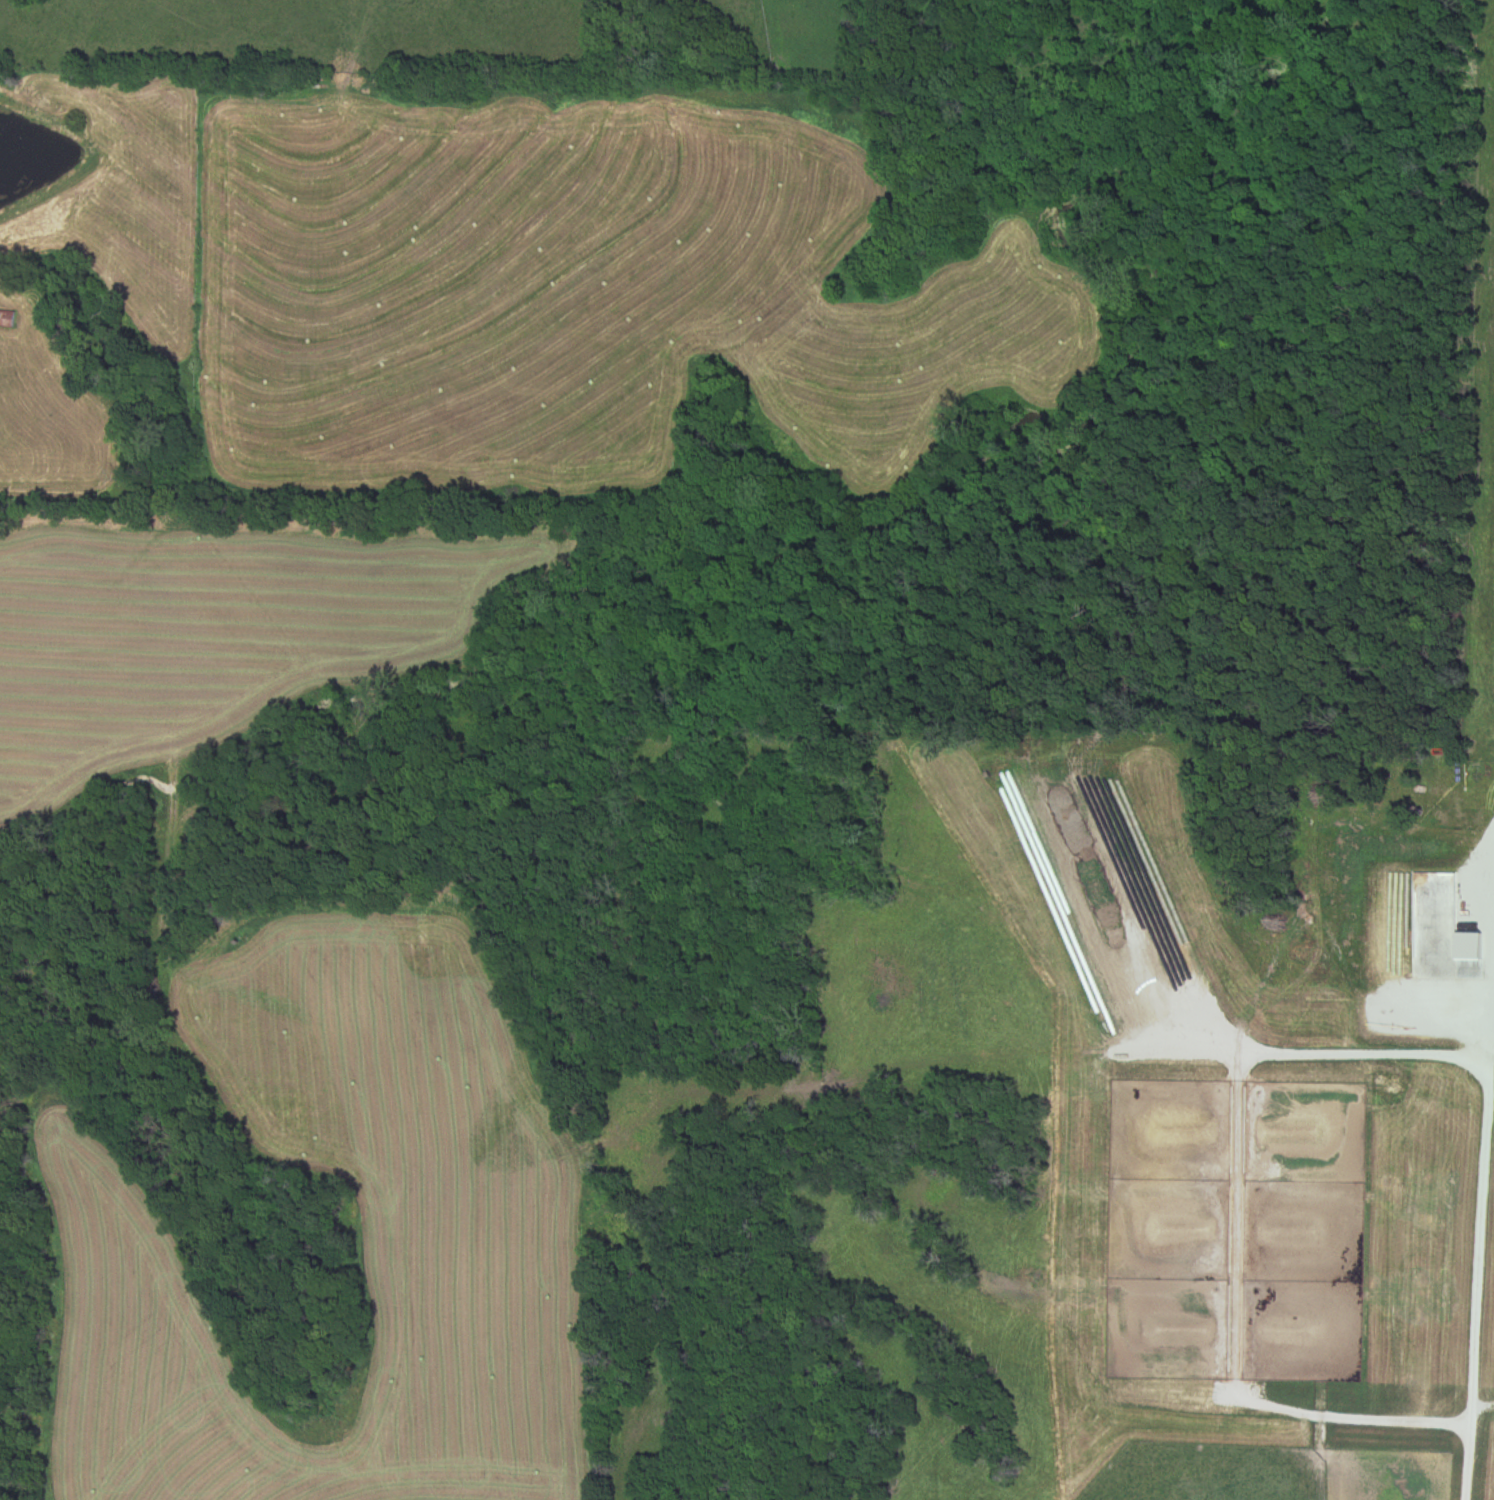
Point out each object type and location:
building: (6, 319)

